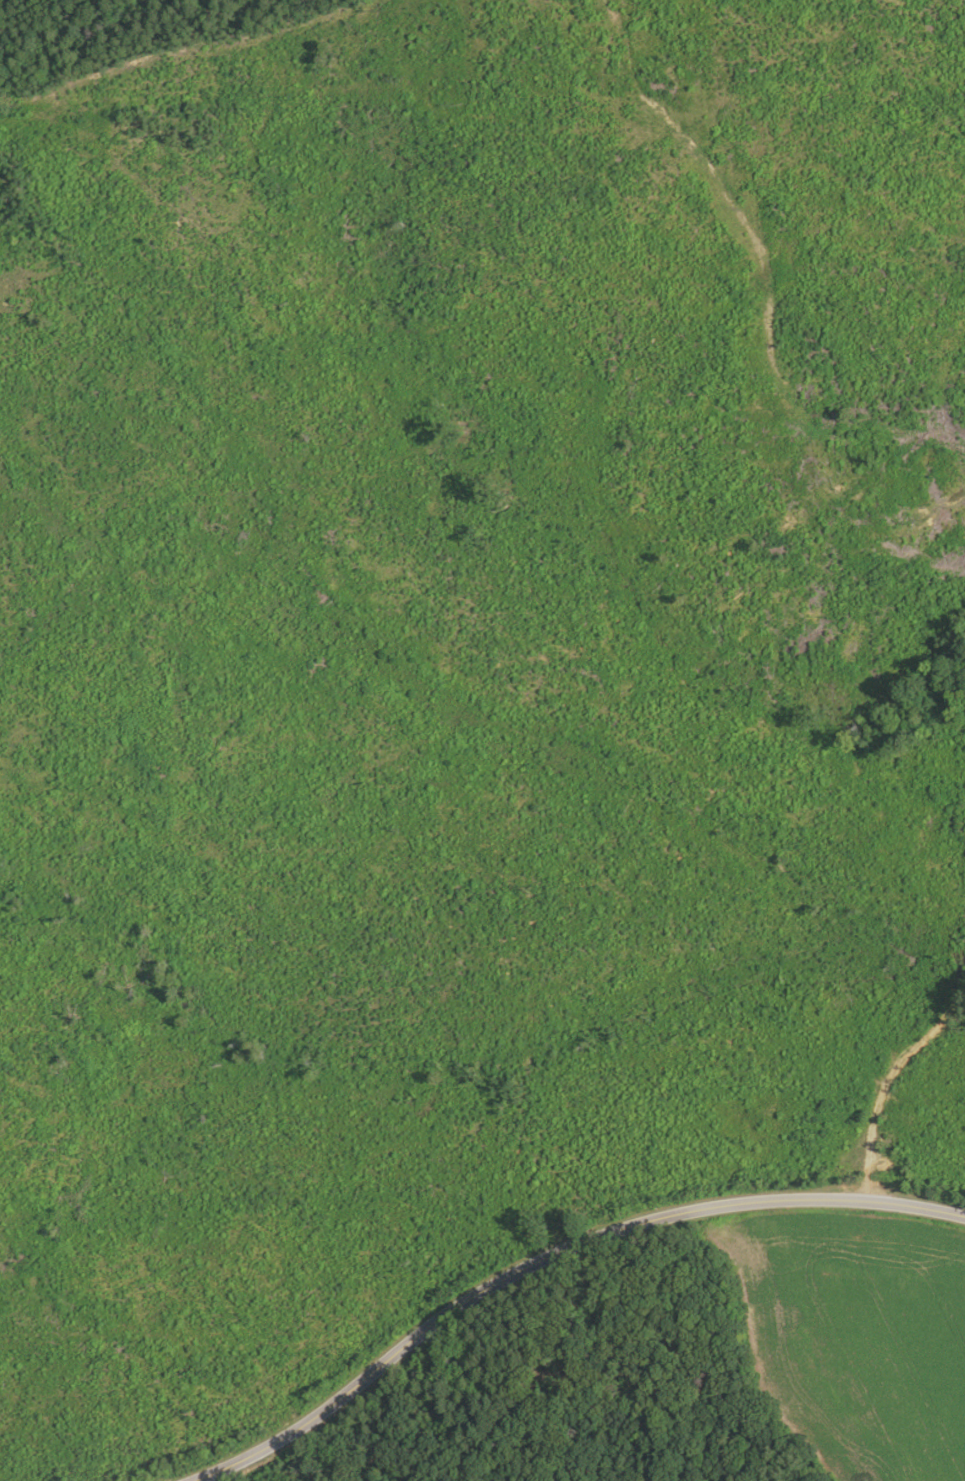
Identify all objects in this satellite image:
road: (888, 1084)
road: (548, 1256)

